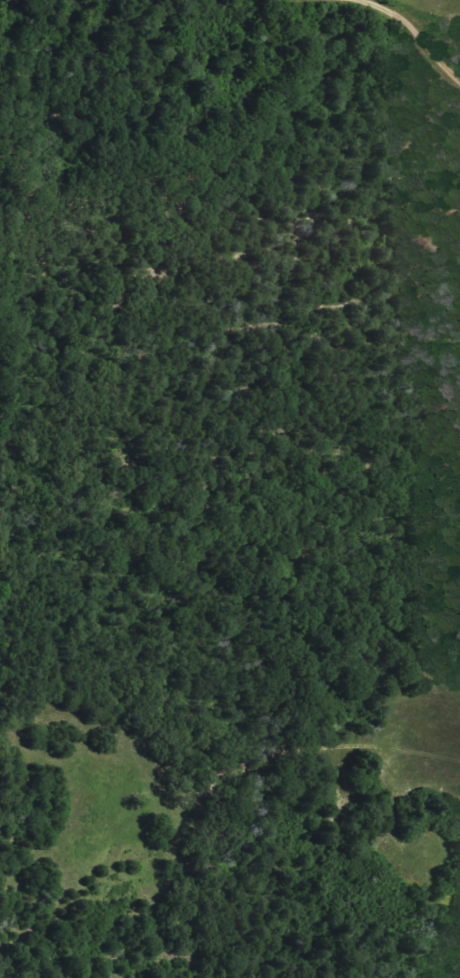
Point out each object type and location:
road: (414, 37)

